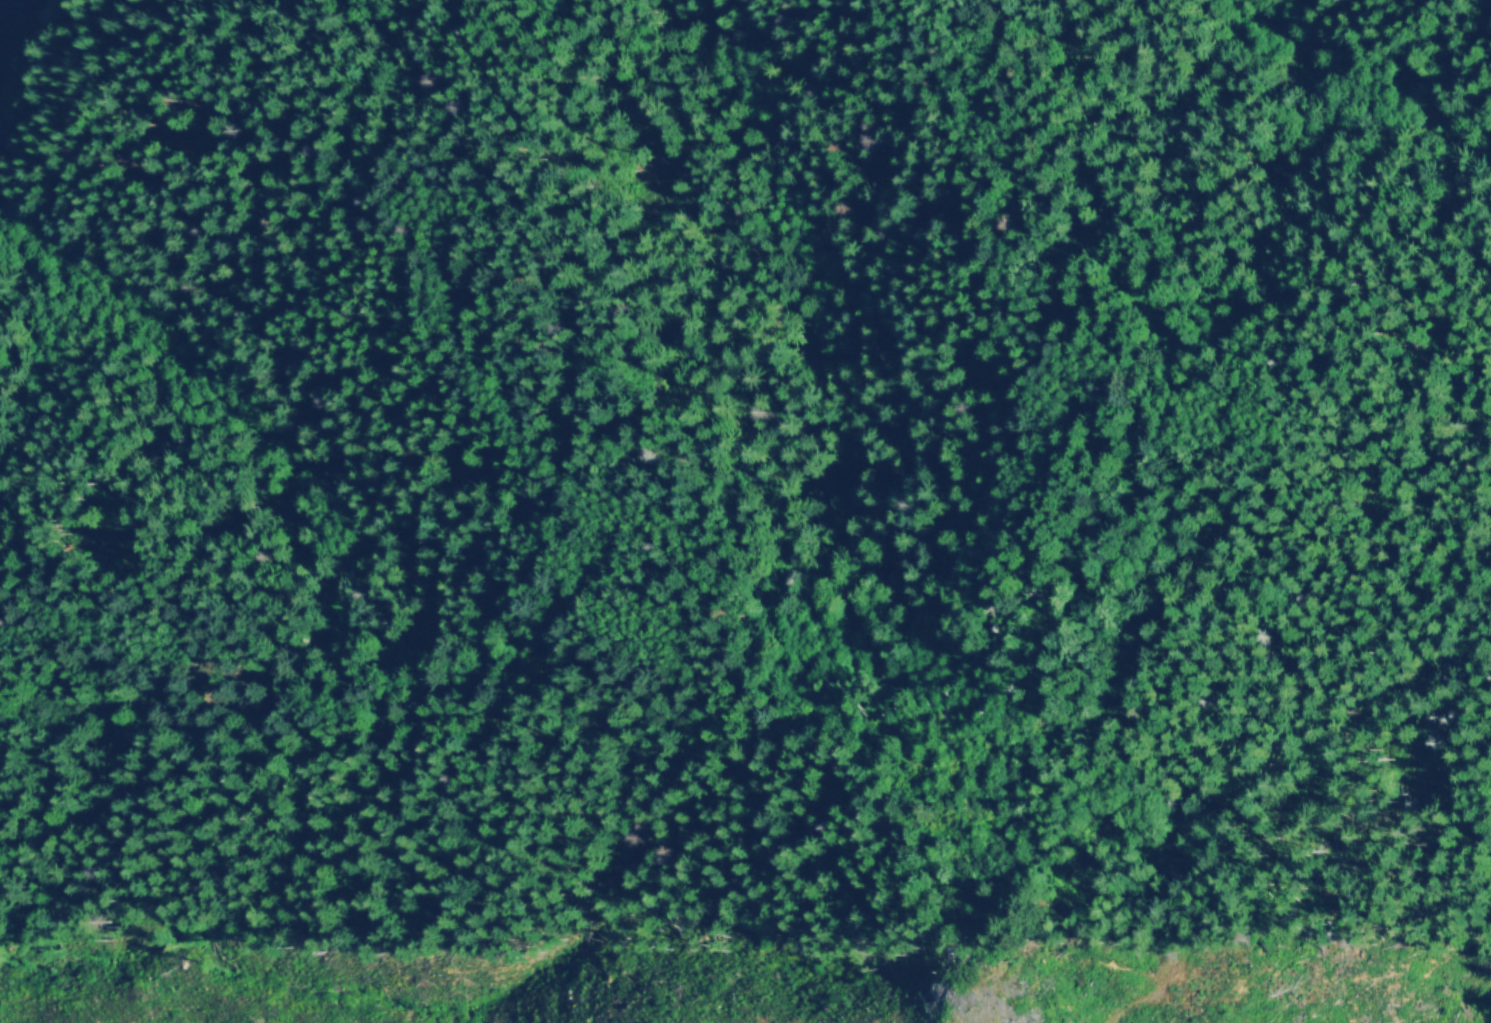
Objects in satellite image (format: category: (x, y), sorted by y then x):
road: (1321, 110)
road: (36, 121)
park: (742, 464)
road: (1023, 517)

